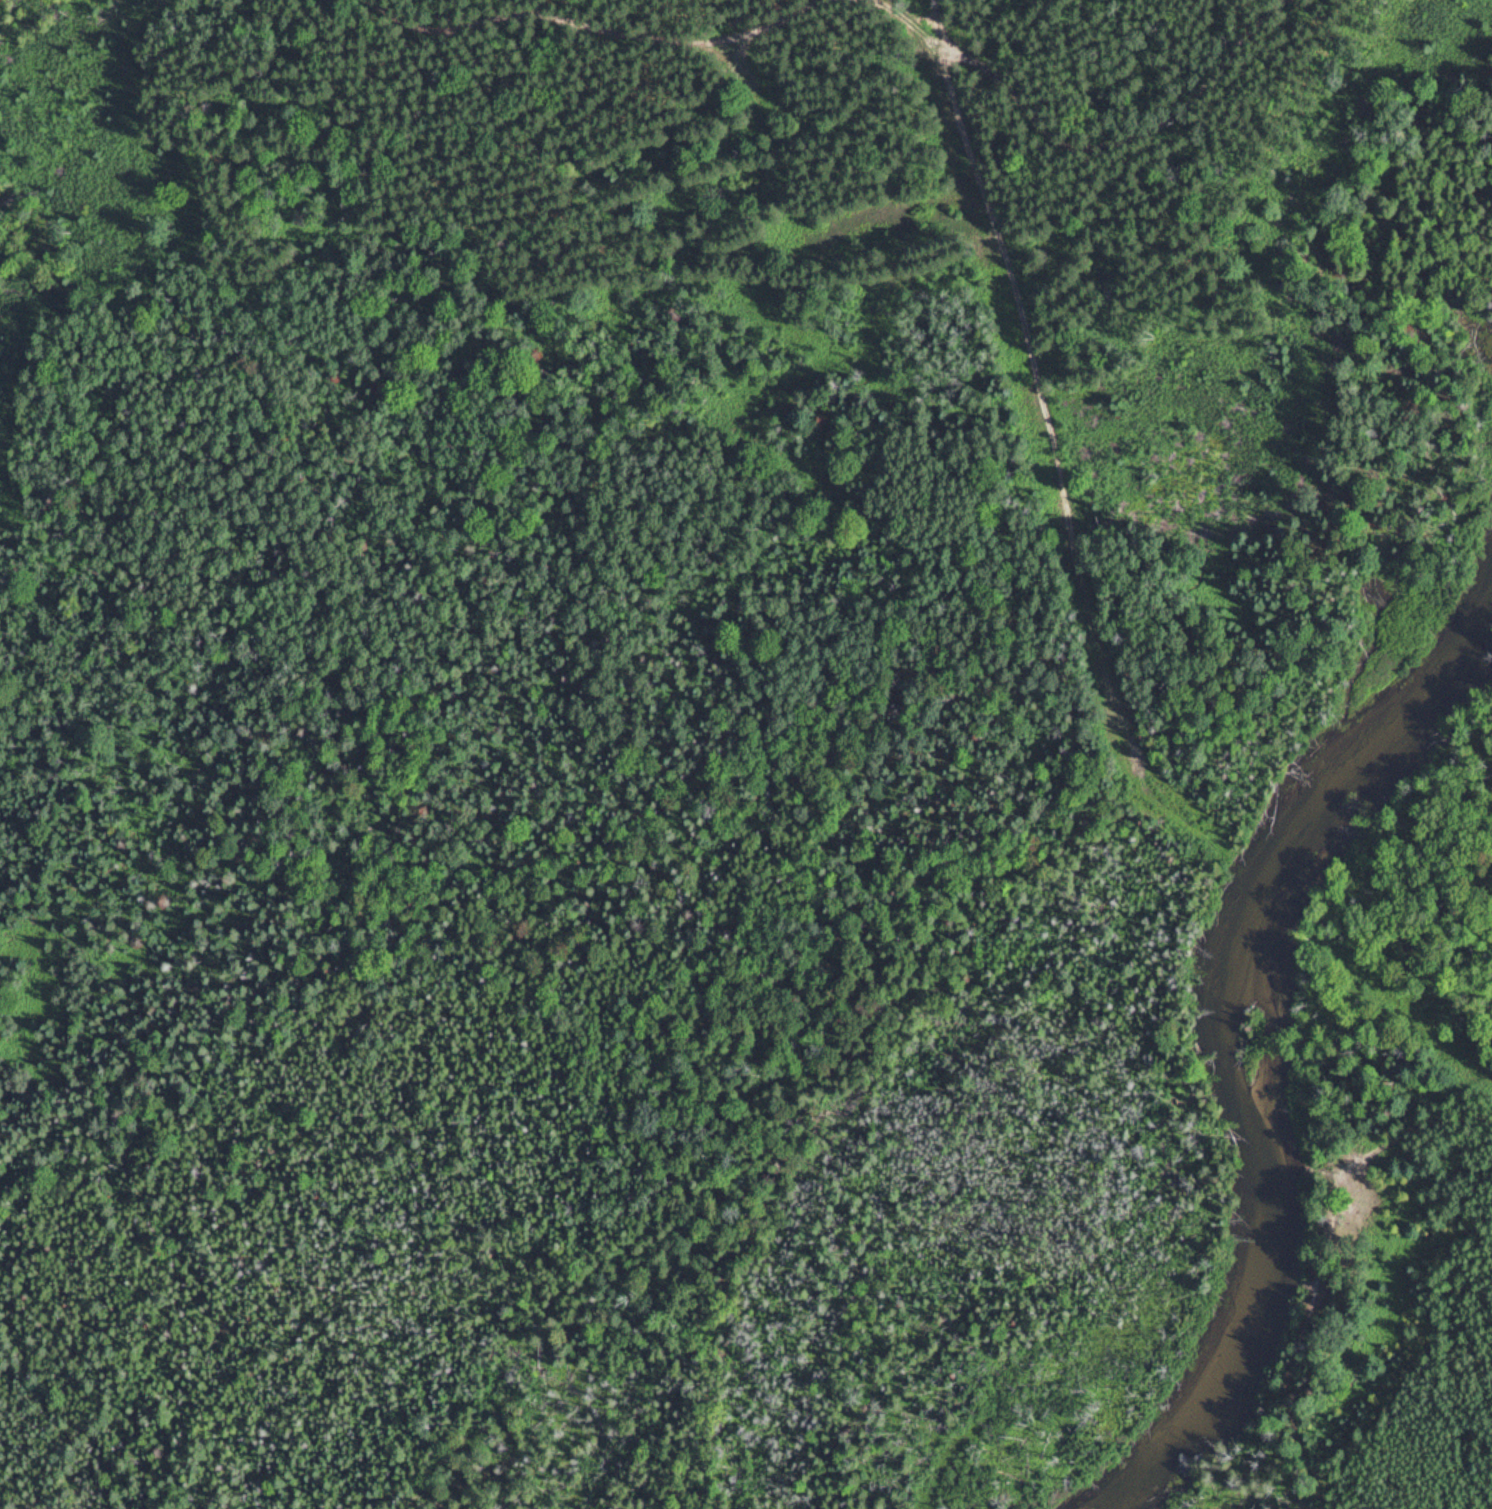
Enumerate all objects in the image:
road: (834, 9)
road: (941, 22)
road: (1031, 364)
river: (1270, 1043)
road: (1339, 1182)

